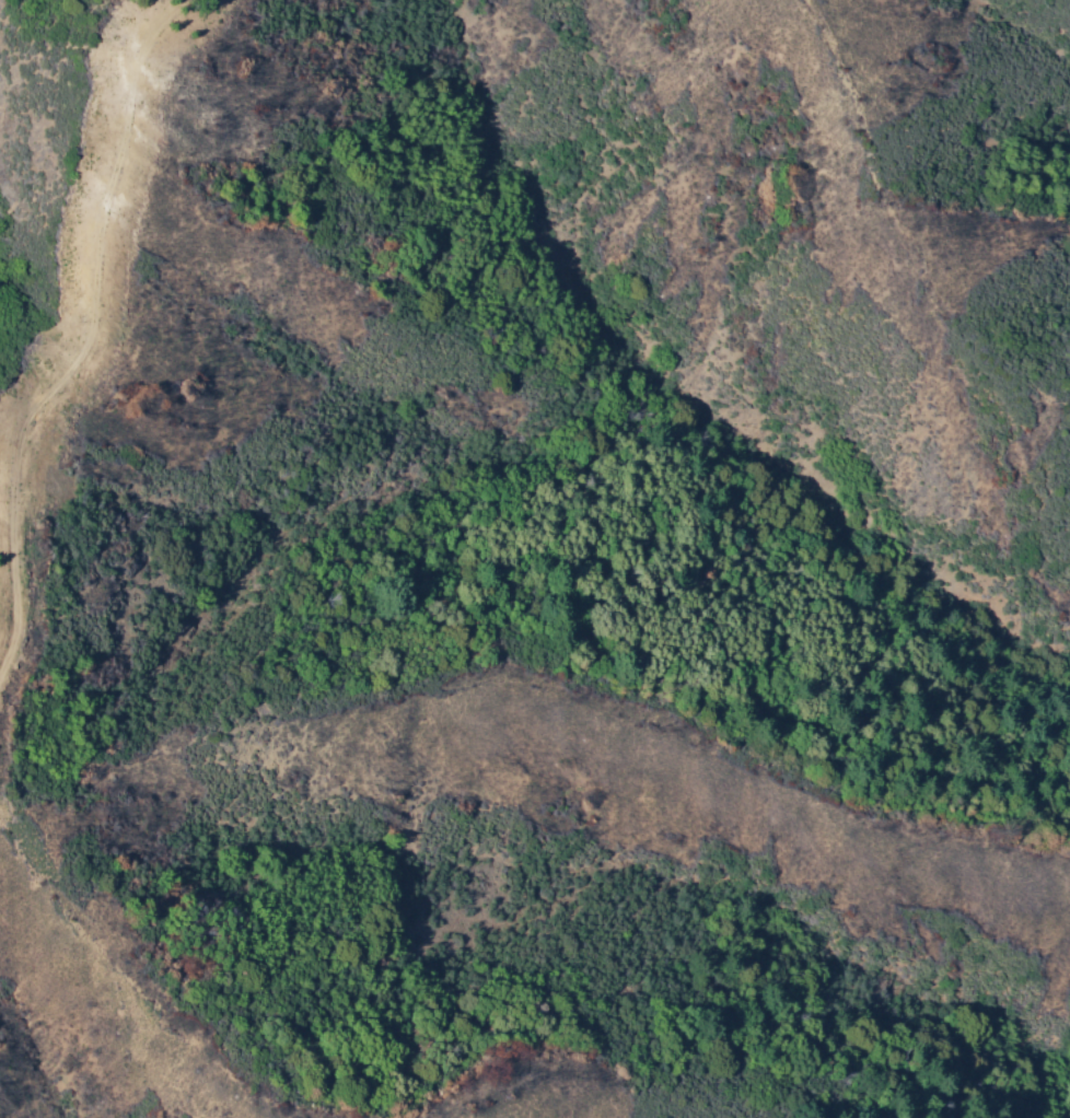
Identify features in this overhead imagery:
road: (93, 316)

